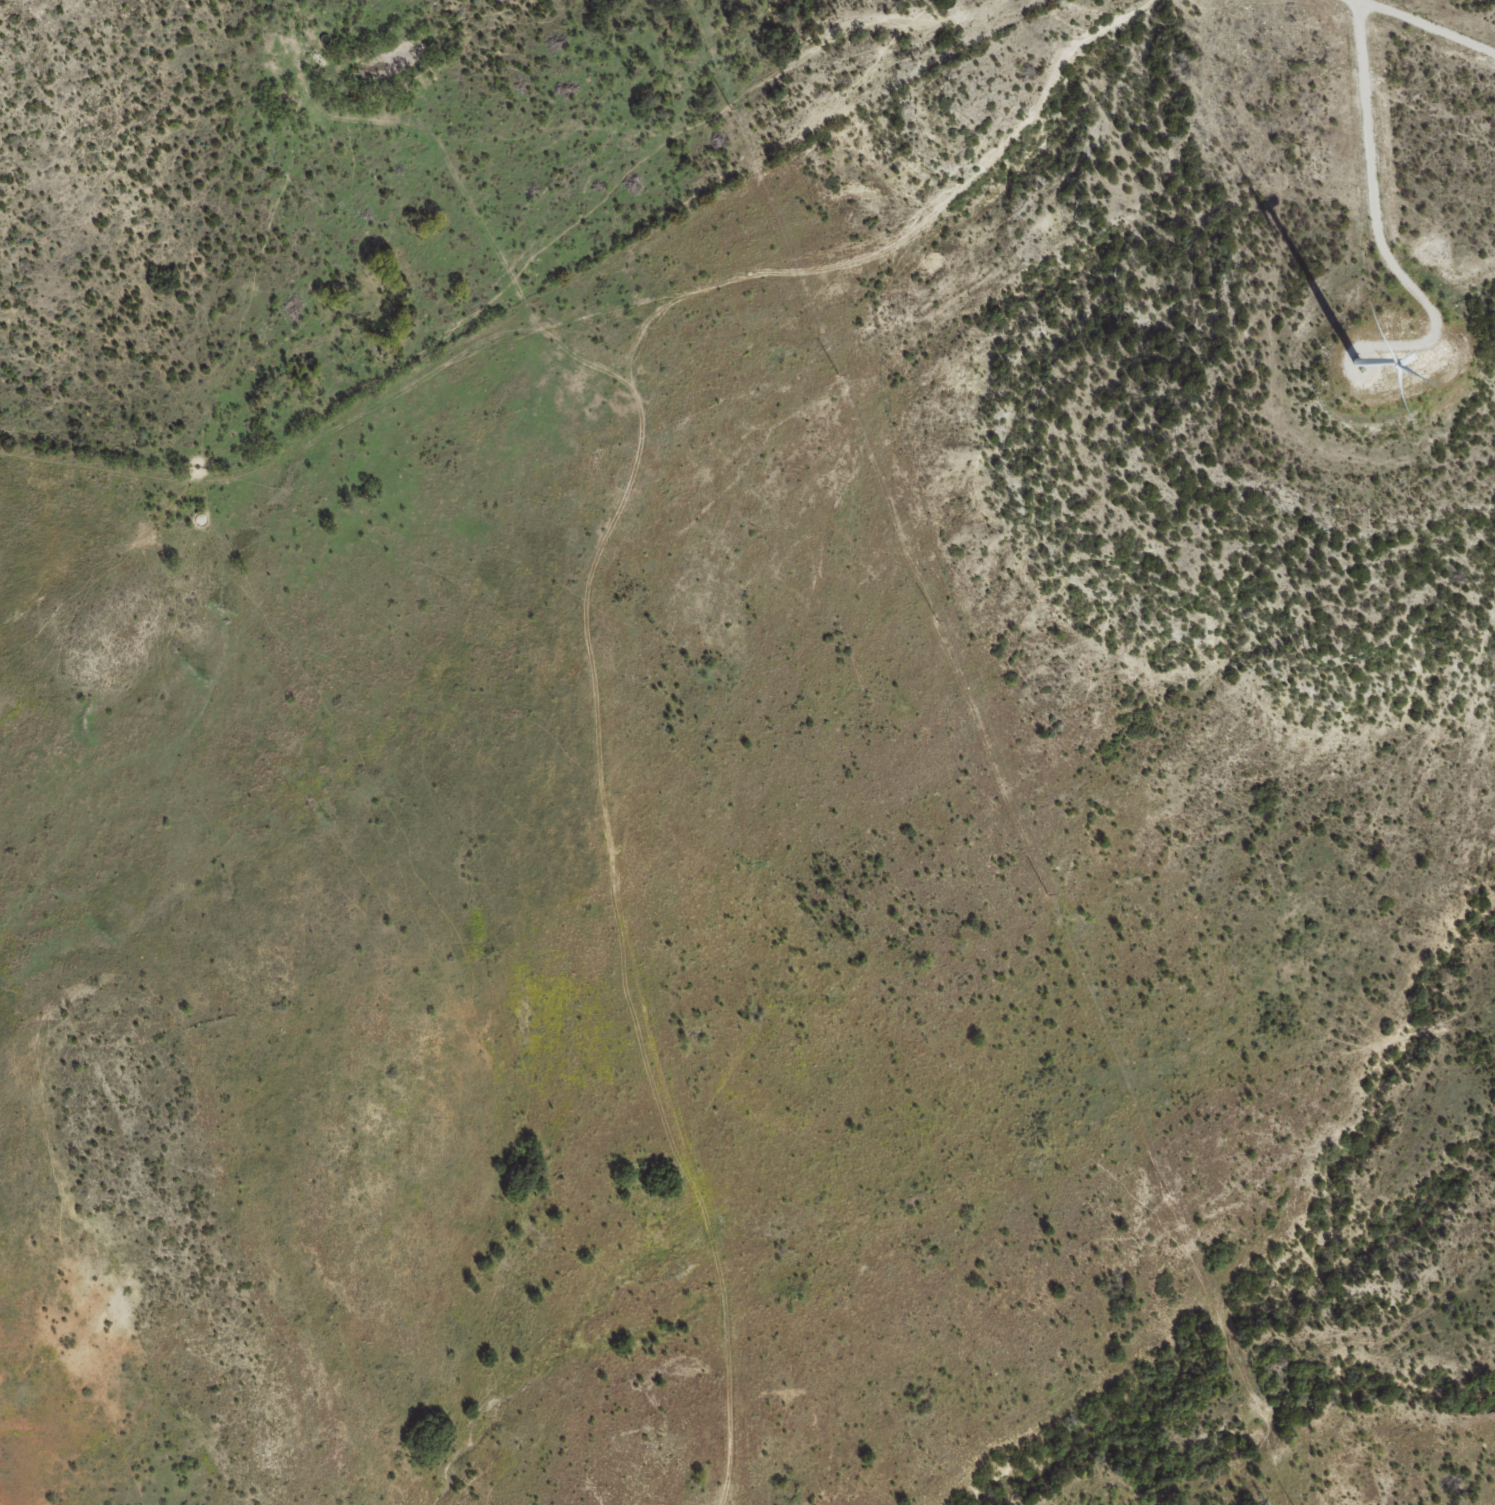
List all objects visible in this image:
power tower: (729, 104)
road: (985, 198)
road: (565, 330)
wind turbine: (1354, 362)
power tower: (838, 373)
power tower: (936, 618)
road: (627, 643)
power tower: (1049, 893)
power tower: (1166, 1191)

